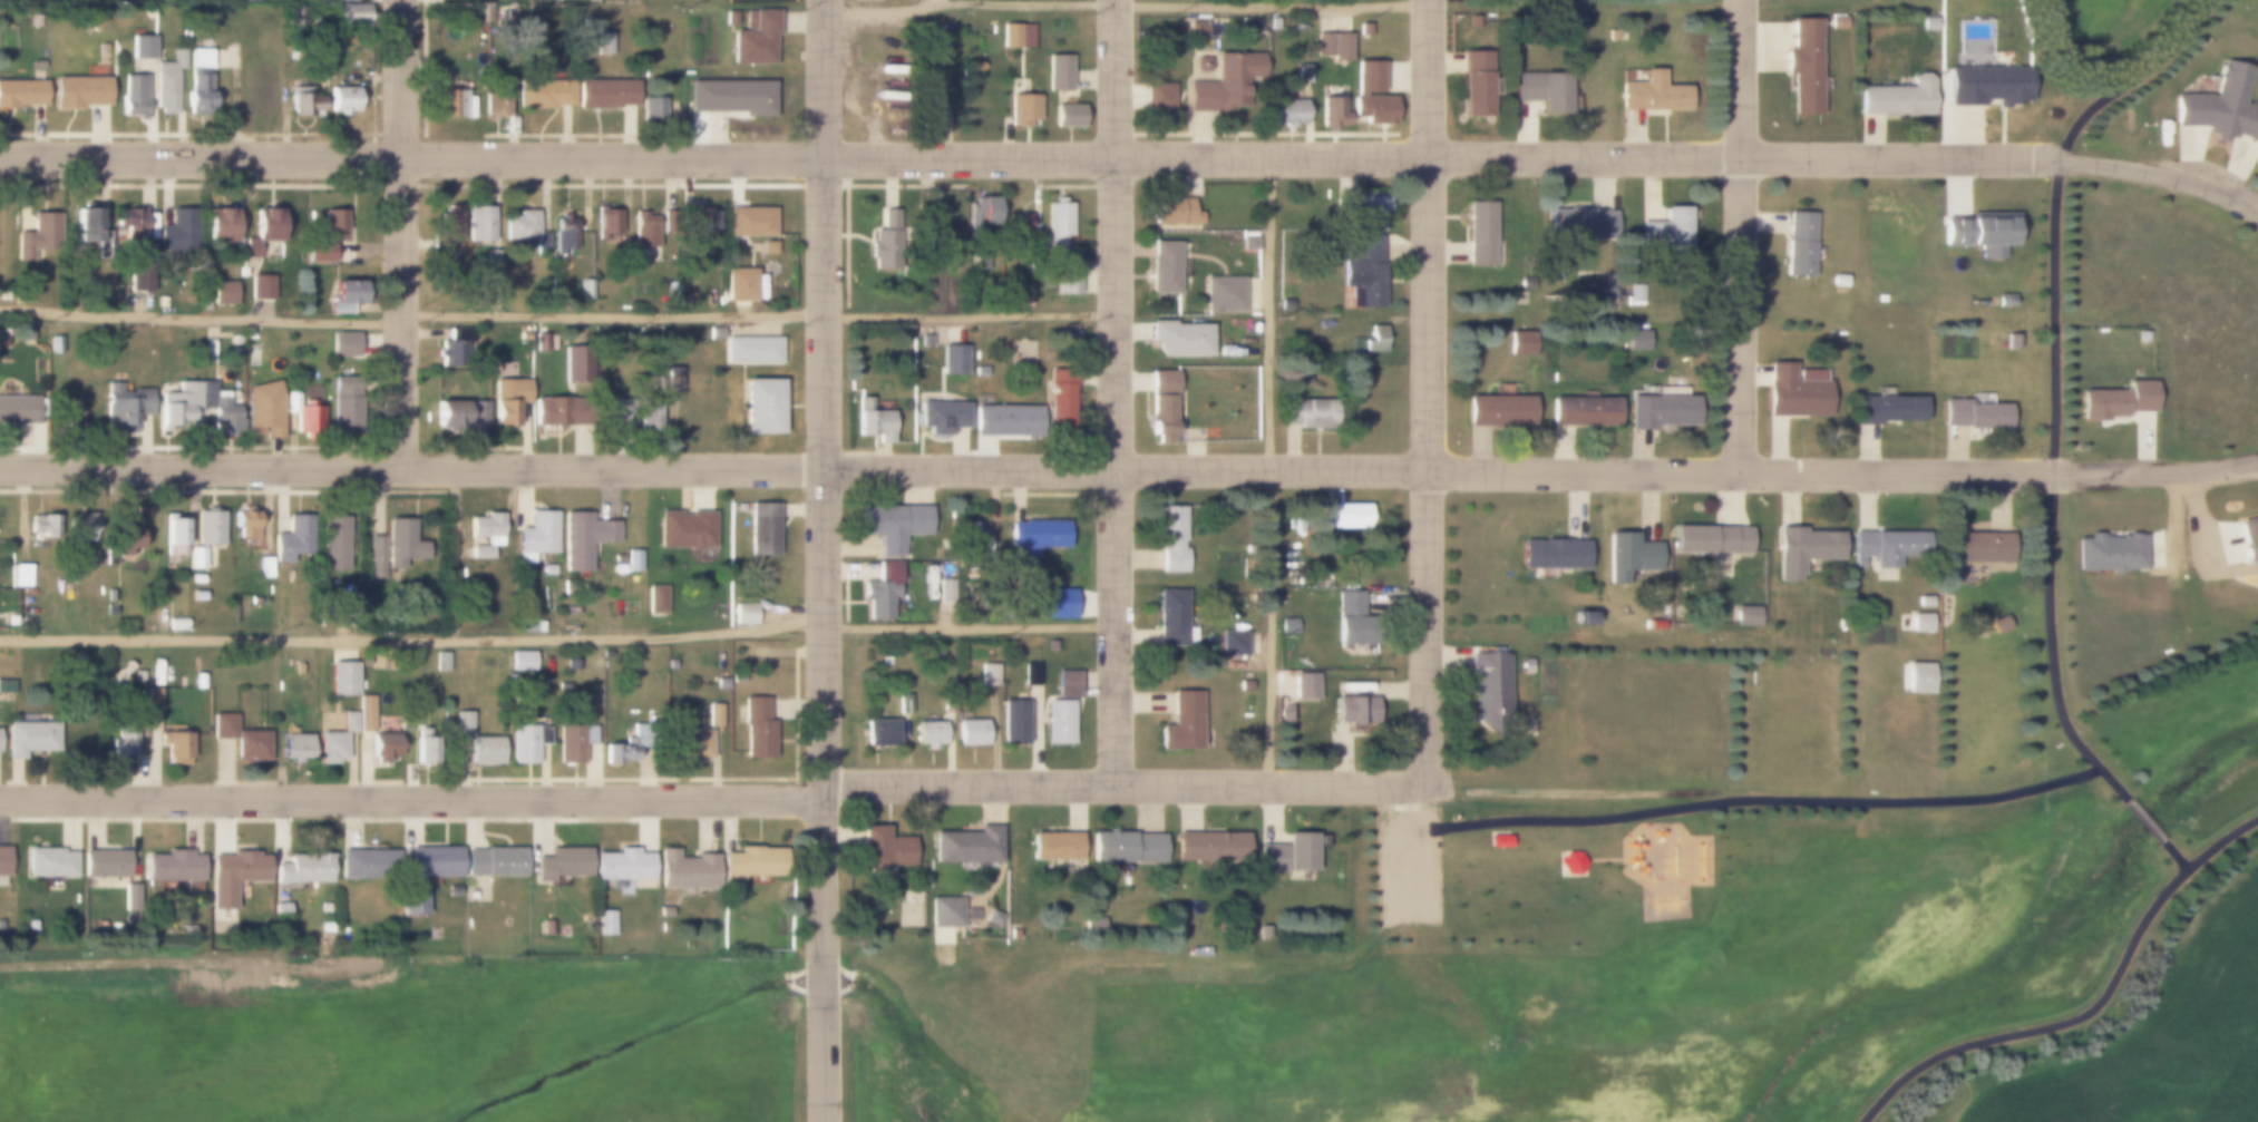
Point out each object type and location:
building: (327, 0)
building: (869, 0)
road: (1126, 4)
building: (351, 14)
building: (728, 18)
building: (35, 20)
building: (1837, 22)
building: (96, 23)
building: (1273, 25)
building: (1927, 25)
building: (1196, 27)
building: (1364, 29)
building: (1016, 37)
building: (753, 38)
building: (943, 39)
building: (603, 43)
building: (1333, 45)
building: (142, 47)
storage tank: (116, 48)
building: (104, 49)
building: (885, 52)
building: (1801, 65)
building: (977, 66)
building: (38, 67)
building: (1058, 72)
building: (1303, 74)
building: (199, 81)
building: (167, 82)
building: (1229, 84)
building: (1474, 84)
building: (1986, 86)
building: (79, 92)
building: (1541, 92)
building: (1653, 92)
building: (20, 94)
building: (545, 94)
building: (604, 94)
building: (133, 96)
building: (1158, 96)
building: (1370, 96)
building: (262, 97)
building: (742, 97)
building: (1897, 97)
building: (343, 99)
building: (494, 99)
building: (456, 104)
building: (301, 105)
building: (2220, 107)
building: (655, 109)
building: (931, 109)
building: (1021, 111)
building: (1330, 111)
building: (1286, 113)
building: (1067, 116)
road: (1133, 156)
building: (1372, 203)
building: (980, 209)
building: (1175, 213)
building: (1059, 221)
building: (130, 222)
building: (479, 222)
building: (750, 222)
building: (1015, 222)
building: (607, 223)
building: (332, 224)
building: (697, 224)
building: (218, 225)
building: (520, 225)
building: (1576, 225)
building: (86, 226)
building: (179, 226)
building: (263, 228)
building: (1019, 228)
building: (644, 230)
building: (446, 231)
building: (1978, 231)
building: (1656, 232)
building: (883, 233)
building: (1478, 233)
road: (402, 234)
road: (1740, 234)
building: (37, 235)
building: (564, 242)
building: (543, 243)
building: (1798, 245)
building: (319, 253)
building: (491, 262)
building: (1162, 267)
building: (1361, 269)
building: (140, 276)
building: (1065, 277)
building: (1838, 281)
building: (739, 284)
building: (261, 285)
building: (585, 290)
building: (672, 291)
building: (1606, 291)
building: (223, 292)
building: (1223, 293)
building: (344, 295)
building: (1635, 296)
building: (682, 300)
road: (557, 314)
building: (713, 333)
building: (522, 335)
building: (1180, 339)
building: (1636, 340)
building: (3, 341)
building: (924, 341)
building: (2012, 341)
building: (342, 343)
building: (1519, 343)
building: (452, 344)
building: (55, 345)
building: (751, 349)
building: (952, 360)
building: (576, 364)
building: (981, 371)
building: (671, 377)
road: (2053, 383)
building: (1795, 390)
road: (1116, 392)
building: (1059, 394)
road: (1427, 394)
building: (507, 399)
building: (2115, 400)
building: (347, 403)
building: (197, 404)
building: (1160, 404)
building: (760, 406)
building: (121, 407)
building: (1500, 408)
building: (1885, 408)
building: (20, 410)
building: (261, 410)
building: (1583, 410)
building: (554, 411)
building: (1660, 411)
building: (1306, 412)
building: (459, 413)
building: (624, 413)
building: (69, 414)
building: (1973, 416)
building: (944, 418)
building: (308, 419)
building: (651, 419)
building: (1008, 420)
building: (872, 421)
road: (1129, 469)
road: (1271, 470)
building: (1343, 516)
building: (245, 524)
building: (77, 526)
building: (893, 526)
building: (42, 528)
building: (486, 529)
building: (684, 529)
building: (762, 529)
building: (204, 533)
building: (537, 534)
building: (971, 535)
building: (1035, 536)
building: (125, 537)
building: (294, 537)
building: (173, 538)
building: (1170, 538)
building: (2249, 538)
building: (582, 539)
building: (1709, 539)
building: (333, 543)
building: (391, 547)
building: (1976, 548)
building: (1800, 552)
building: (1885, 552)
building: (2110, 552)
building: (479, 553)
building: (1551, 553)
building: (1626, 555)
building: (616, 558)
building: (632, 560)
road: (821, 560)
building: (264, 568)
building: (616, 569)
building: (547, 570)
building: (20, 577)
building: (944, 588)
building: (880, 591)
building: (197, 594)
building: (654, 598)
building: (253, 601)
building: (1924, 602)
building: (1068, 608)
building: (742, 614)
building: (1743, 615)
building: (1168, 618)
building: (1347, 618)
building: (1579, 618)
building: (10, 621)
building: (1918, 623)
building: (177, 624)
building: (1997, 625)
building: (1285, 626)
building: (529, 627)
building: (1188, 634)
road: (557, 636)
building: (1230, 644)
building: (1051, 646)
building: (936, 651)
building: (520, 661)
building: (885, 661)
building: (440, 662)
building: (669, 664)
building: (571, 665)
building: (1525, 665)
building: (1029, 674)
building: (987, 675)
building: (138, 676)
building: (342, 679)
building: (1915, 679)
building: (153, 681)
building: (1067, 684)
building: (1243, 685)
building: (6, 686)
building: (1303, 686)
building: (1488, 689)
building: (152, 699)
building: (903, 703)
building: (1351, 710)
building: (364, 713)
building: (1287, 713)
building: (712, 714)
building: (461, 722)
building: (1013, 723)
building: (1057, 723)
building: (222, 724)
building: (1180, 724)
building: (755, 729)
building: (879, 732)
building: (971, 732)
building: (928, 734)
building: (334, 739)
building: (0, 740)
building: (31, 740)
building: (526, 741)
building: (123, 742)
building: (573, 742)
building: (687, 743)
building: (250, 744)
building: (294, 745)
building: (175, 747)
building: (380, 747)
building: (422, 748)
building: (621, 749)
building: (485, 750)
road: (752, 792)
road: (2143, 820)
building: (1497, 841)
building: (965, 846)
building: (1052, 847)
building: (1208, 847)
building: (1123, 848)
building: (879, 849)
building: (1286, 853)
road: (2172, 853)
building: (2, 860)
building: (431, 860)
building: (495, 860)
building: (101, 861)
building: (749, 861)
building: (48, 862)
building: (558, 862)
building: (367, 864)
building: (1569, 864)
building: (620, 867)
parking lot: (1405, 868)
building: (302, 869)
building: (684, 869)
building: (171, 874)
building: (233, 875)
building: (451, 891)
building: (130, 897)
building: (727, 897)
building: (410, 901)
building: (280, 909)
building: (662, 913)
building: (944, 913)
building: (992, 918)
building: (603, 923)
building: (1097, 923)
building: (1234, 923)
building: (324, 927)
building: (544, 928)
building: (186, 930)
building: (1262, 931)
building: (1012, 934)
road: (2089, 1011)

